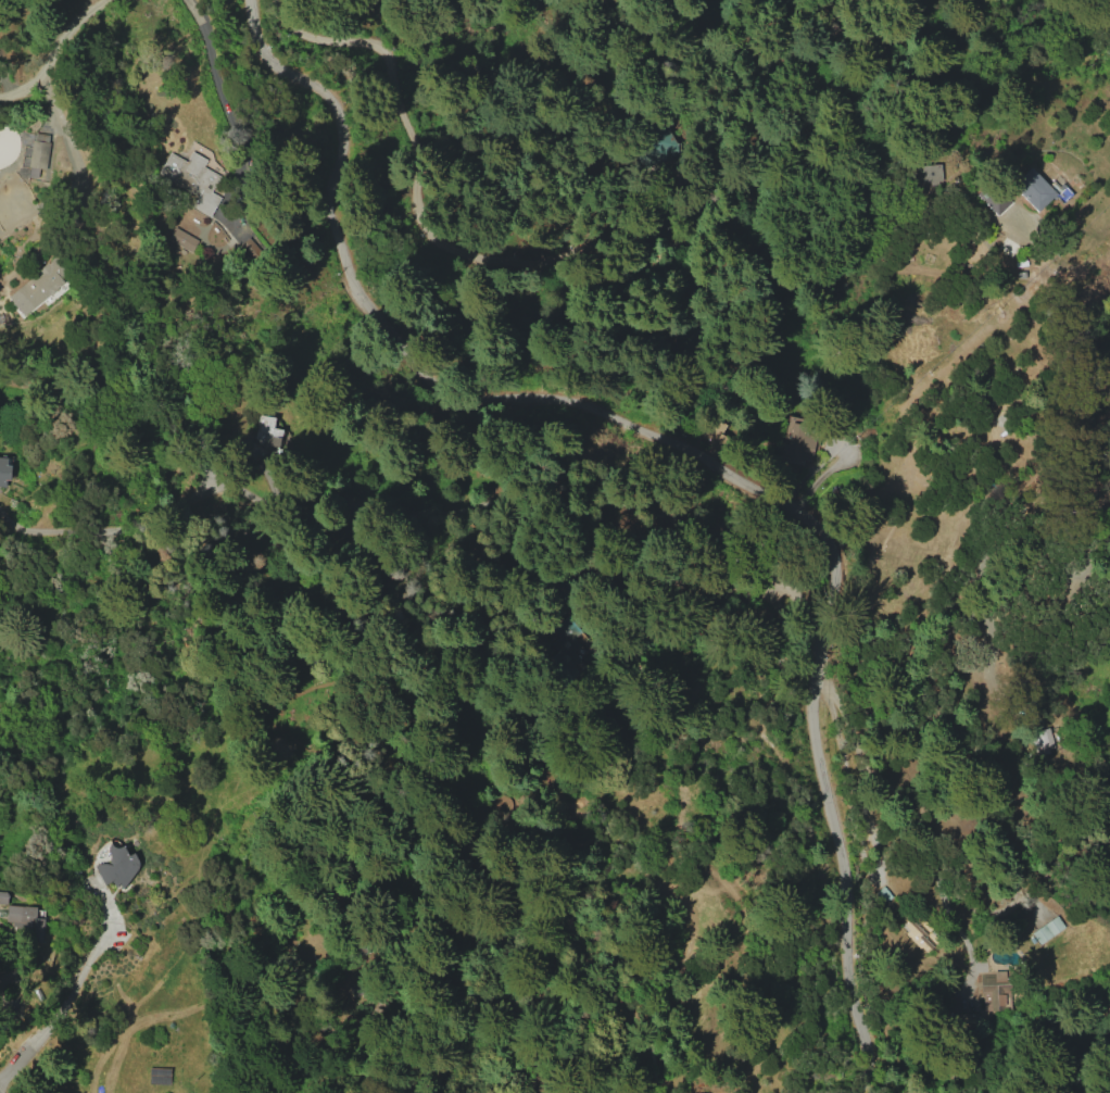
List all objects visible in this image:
road: (58, 53)
building: (191, 179)
building: (1036, 190)
road: (528, 264)
building: (37, 287)
road: (693, 462)
building: (3, 470)
road: (428, 490)
road: (447, 646)
road: (917, 824)
building: (117, 866)
building: (20, 916)
building: (915, 934)
road: (65, 990)
road: (497, 1065)
road: (1, 1091)

